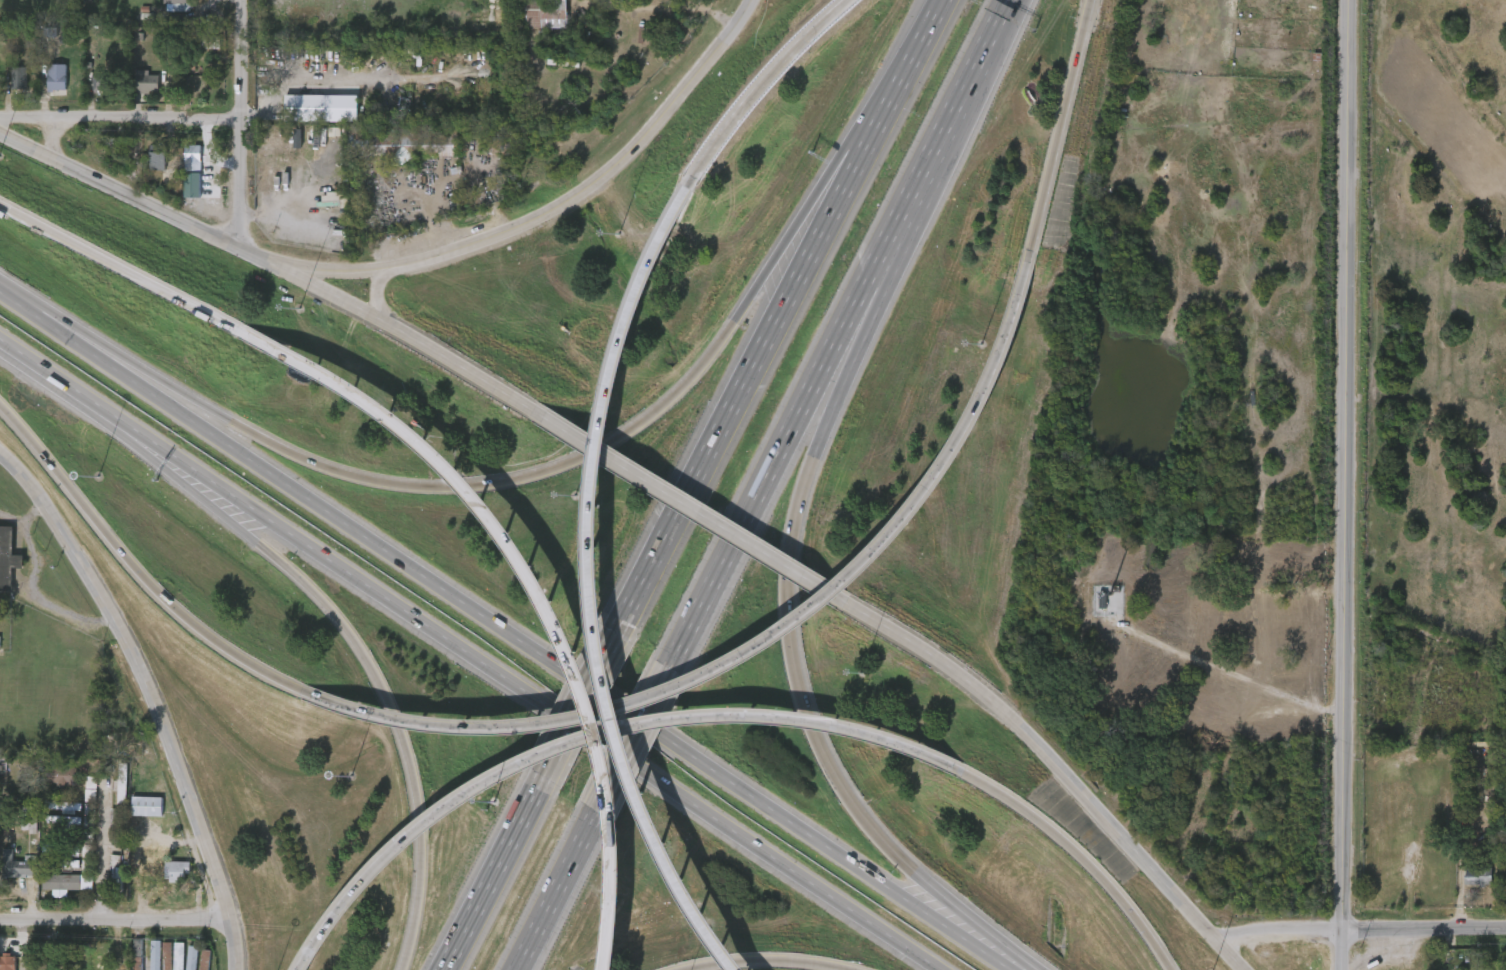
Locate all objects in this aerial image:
building: (176, 2)
road: (664, 6)
building: (546, 14)
building: (524, 24)
road: (927, 27)
road: (993, 31)
building: (210, 43)
building: (56, 77)
building: (18, 81)
building: (145, 82)
building: (101, 83)
building: (44, 86)
road: (759, 86)
building: (7, 90)
building: (133, 90)
building: (85, 91)
road: (954, 111)
building: (308, 116)
road: (123, 123)
road: (247, 123)
road: (1057, 130)
road: (849, 137)
building: (402, 142)
building: (156, 153)
building: (193, 159)
building: (142, 161)
building: (183, 168)
road: (605, 177)
road: (195, 225)
road: (124, 269)
road: (341, 270)
road: (886, 280)
road: (379, 293)
road: (19, 304)
road: (79, 336)
road: (763, 342)
road: (468, 370)
road: (63, 386)
road: (796, 411)
road: (165, 453)
road: (160, 461)
road: (1341, 468)
road: (496, 482)
road: (704, 513)
road: (23, 520)
building: (8, 559)
road: (139, 572)
road: (592, 586)
road: (539, 589)
road: (41, 596)
building: (1101, 600)
road: (767, 641)
road: (523, 644)
road: (792, 666)
road: (1219, 682)
road: (158, 693)
road: (384, 695)
road: (578, 704)
road: (571, 723)
road: (589, 739)
road: (631, 739)
building: (1442, 758)
road: (1053, 762)
building: (60, 774)
building: (50, 784)
road: (535, 789)
building: (77, 795)
building: (106, 797)
building: (119, 798)
building: (62, 804)
building: (147, 806)
building: (53, 814)
building: (134, 814)
building: (57, 829)
building: (58, 847)
road: (1077, 852)
road: (102, 856)
building: (0, 857)
building: (57, 858)
building: (19, 867)
building: (166, 867)
building: (118, 874)
building: (153, 875)
building: (1479, 875)
building: (12, 876)
building: (103, 878)
building: (62, 882)
building: (1464, 884)
road: (485, 885)
building: (48, 890)
building: (73, 890)
road: (555, 890)
road: (118, 922)
road: (978, 931)
road: (1423, 934)
road: (1276, 936)
road: (143, 950)
road: (1340, 953)
road: (765, 959)
road: (1226, 959)
building: (7, 962)
building: (170, 968)
building: (182, 969)

